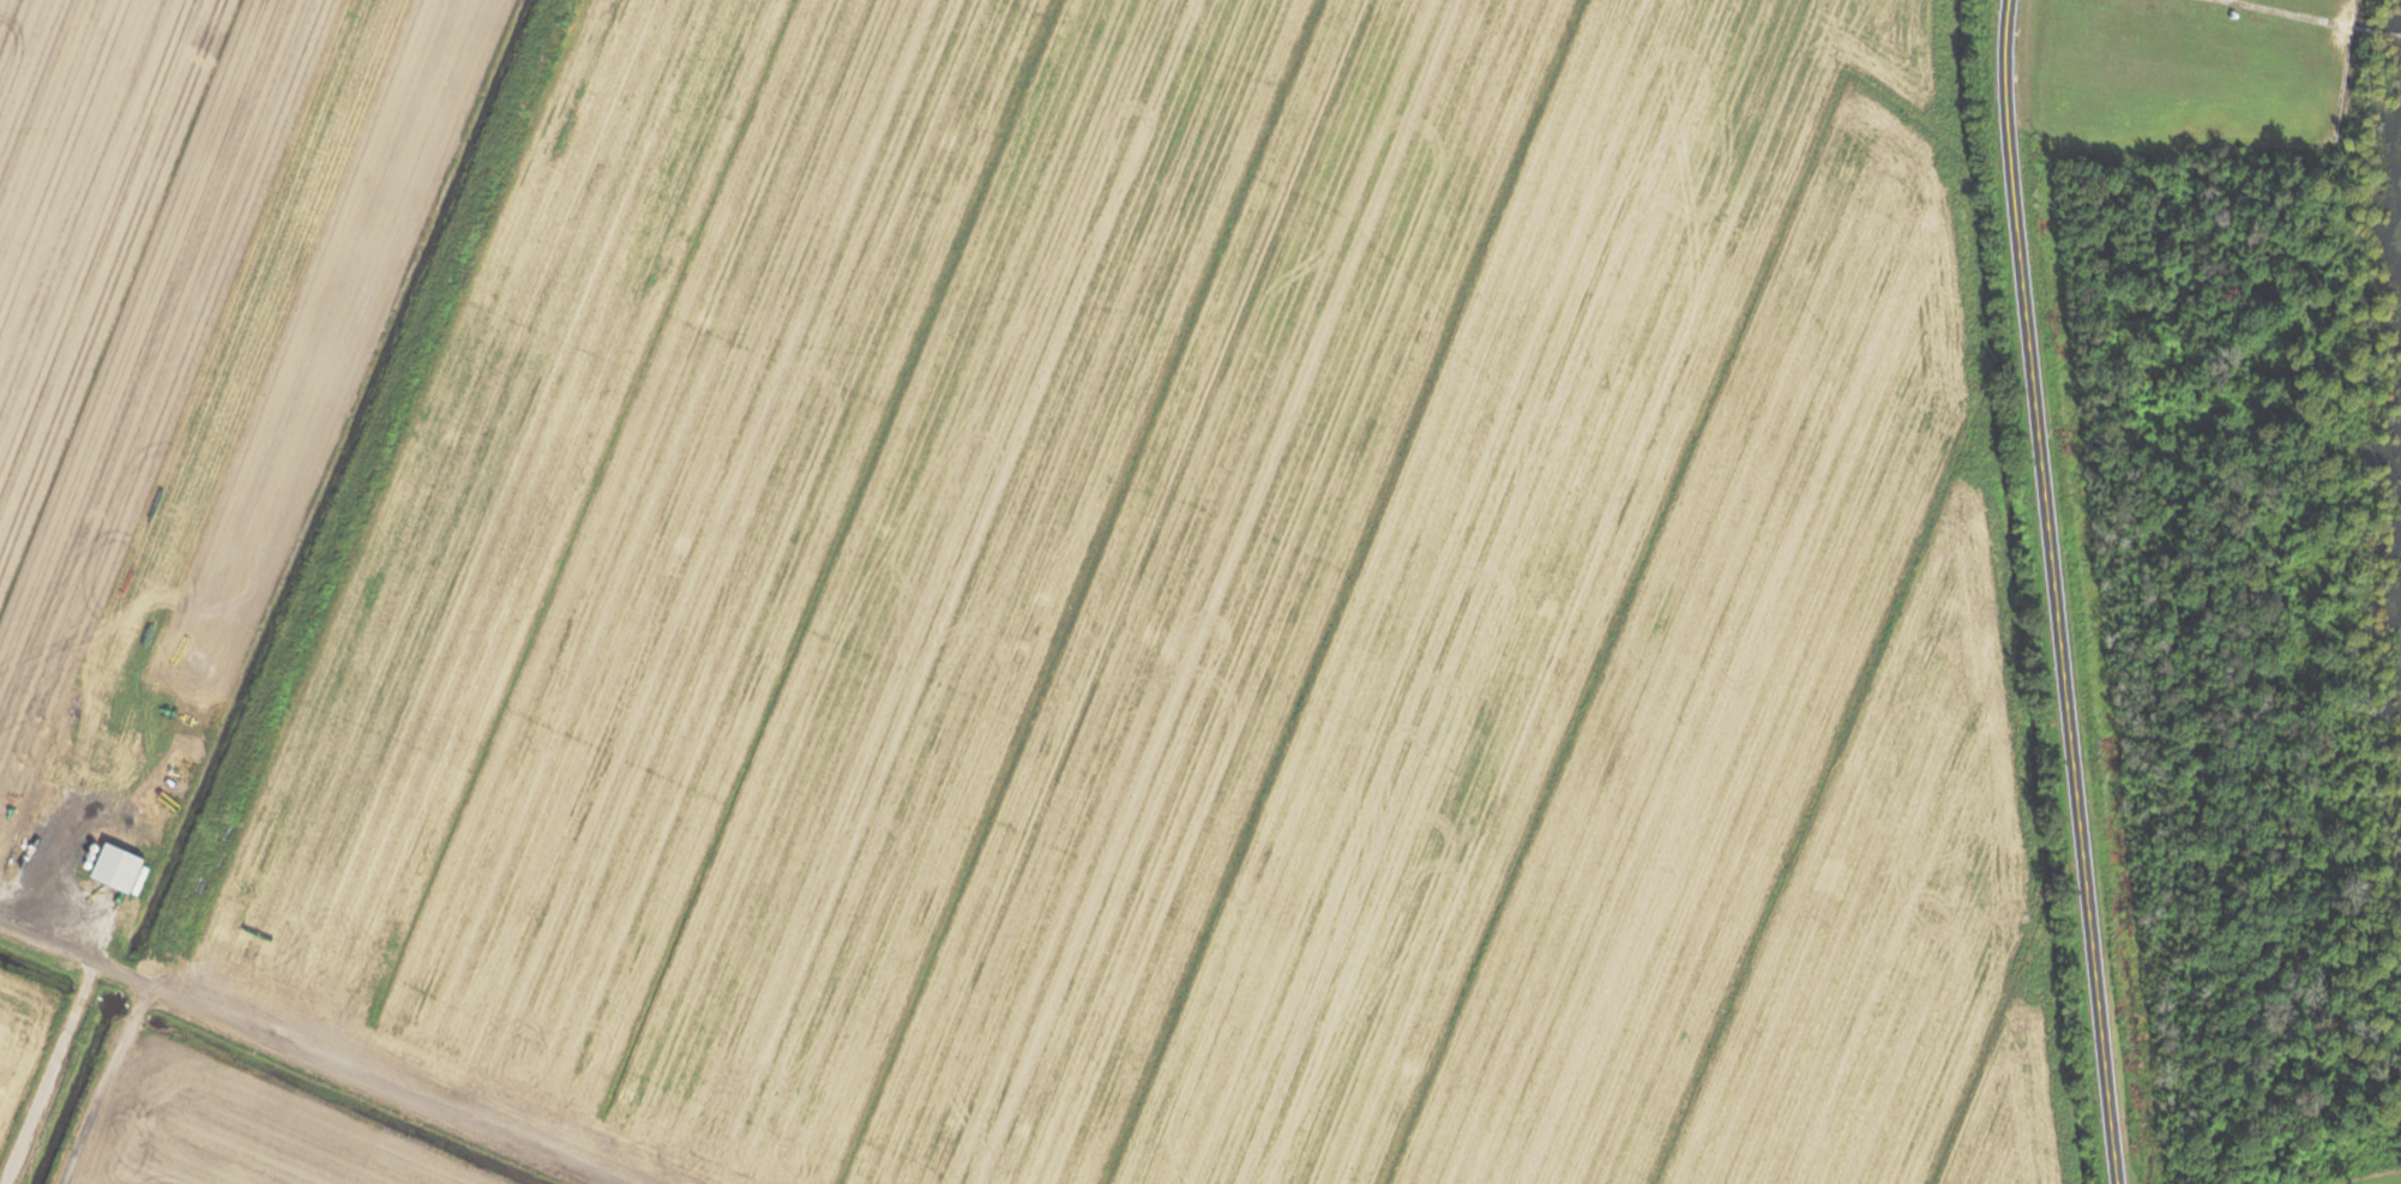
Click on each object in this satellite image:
road: (2057, 591)
crop: (1009, 597)
building: (130, 869)
road: (313, 1051)
road: (55, 1072)

